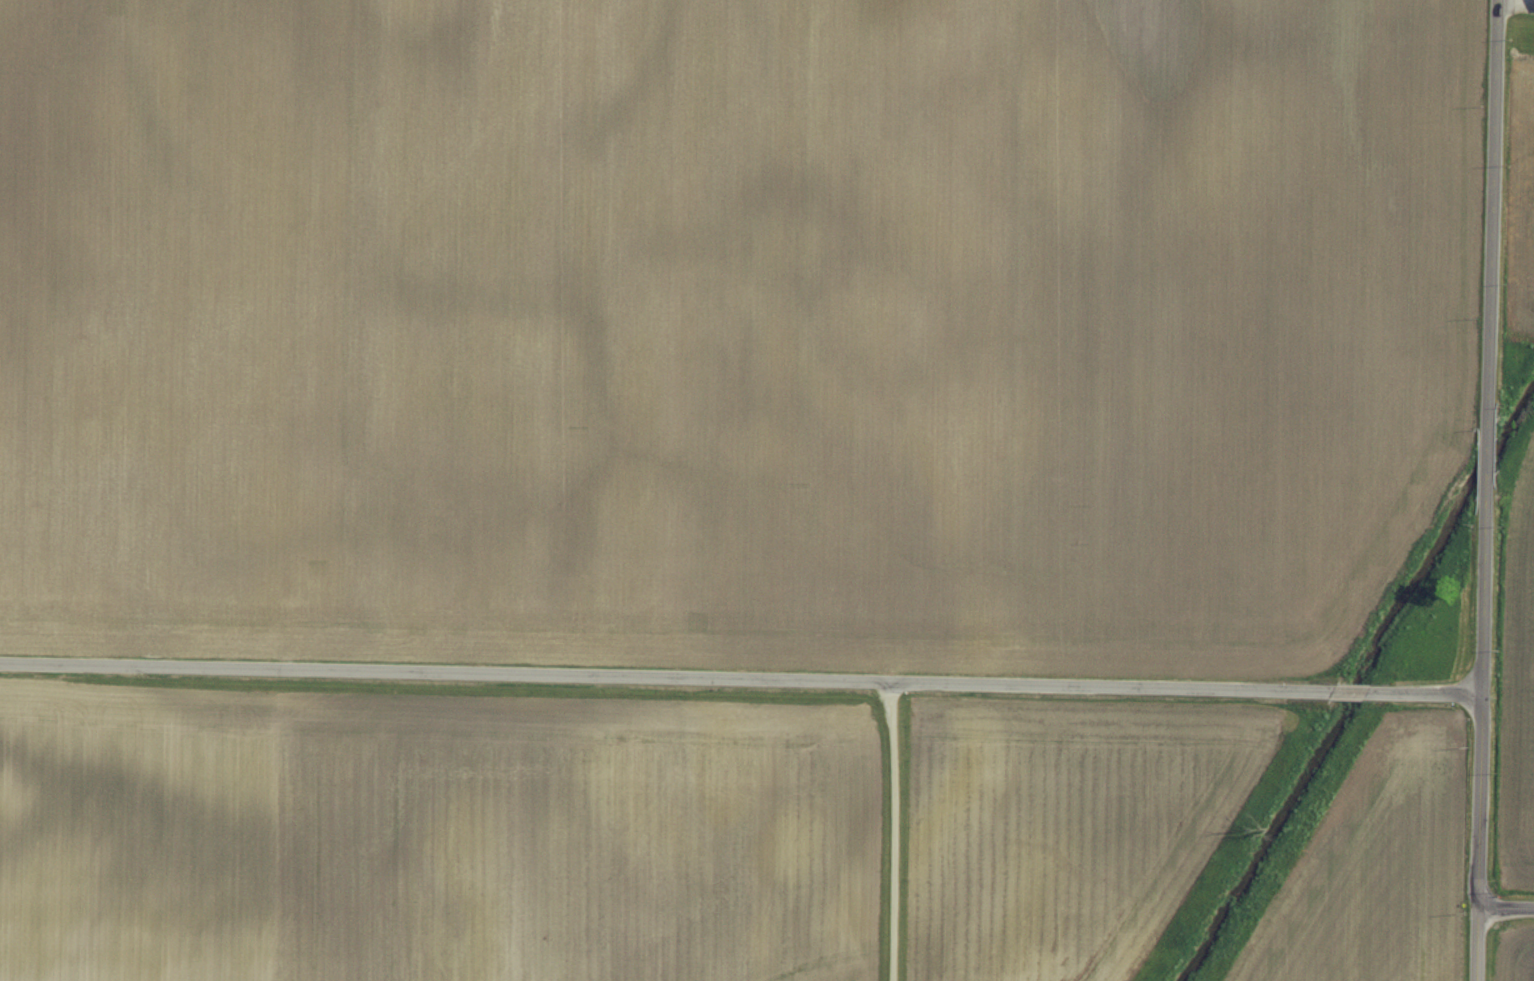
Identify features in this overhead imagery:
road: (1489, 344)
road: (740, 677)
road: (895, 831)
road: (1479, 835)
road: (1506, 902)

